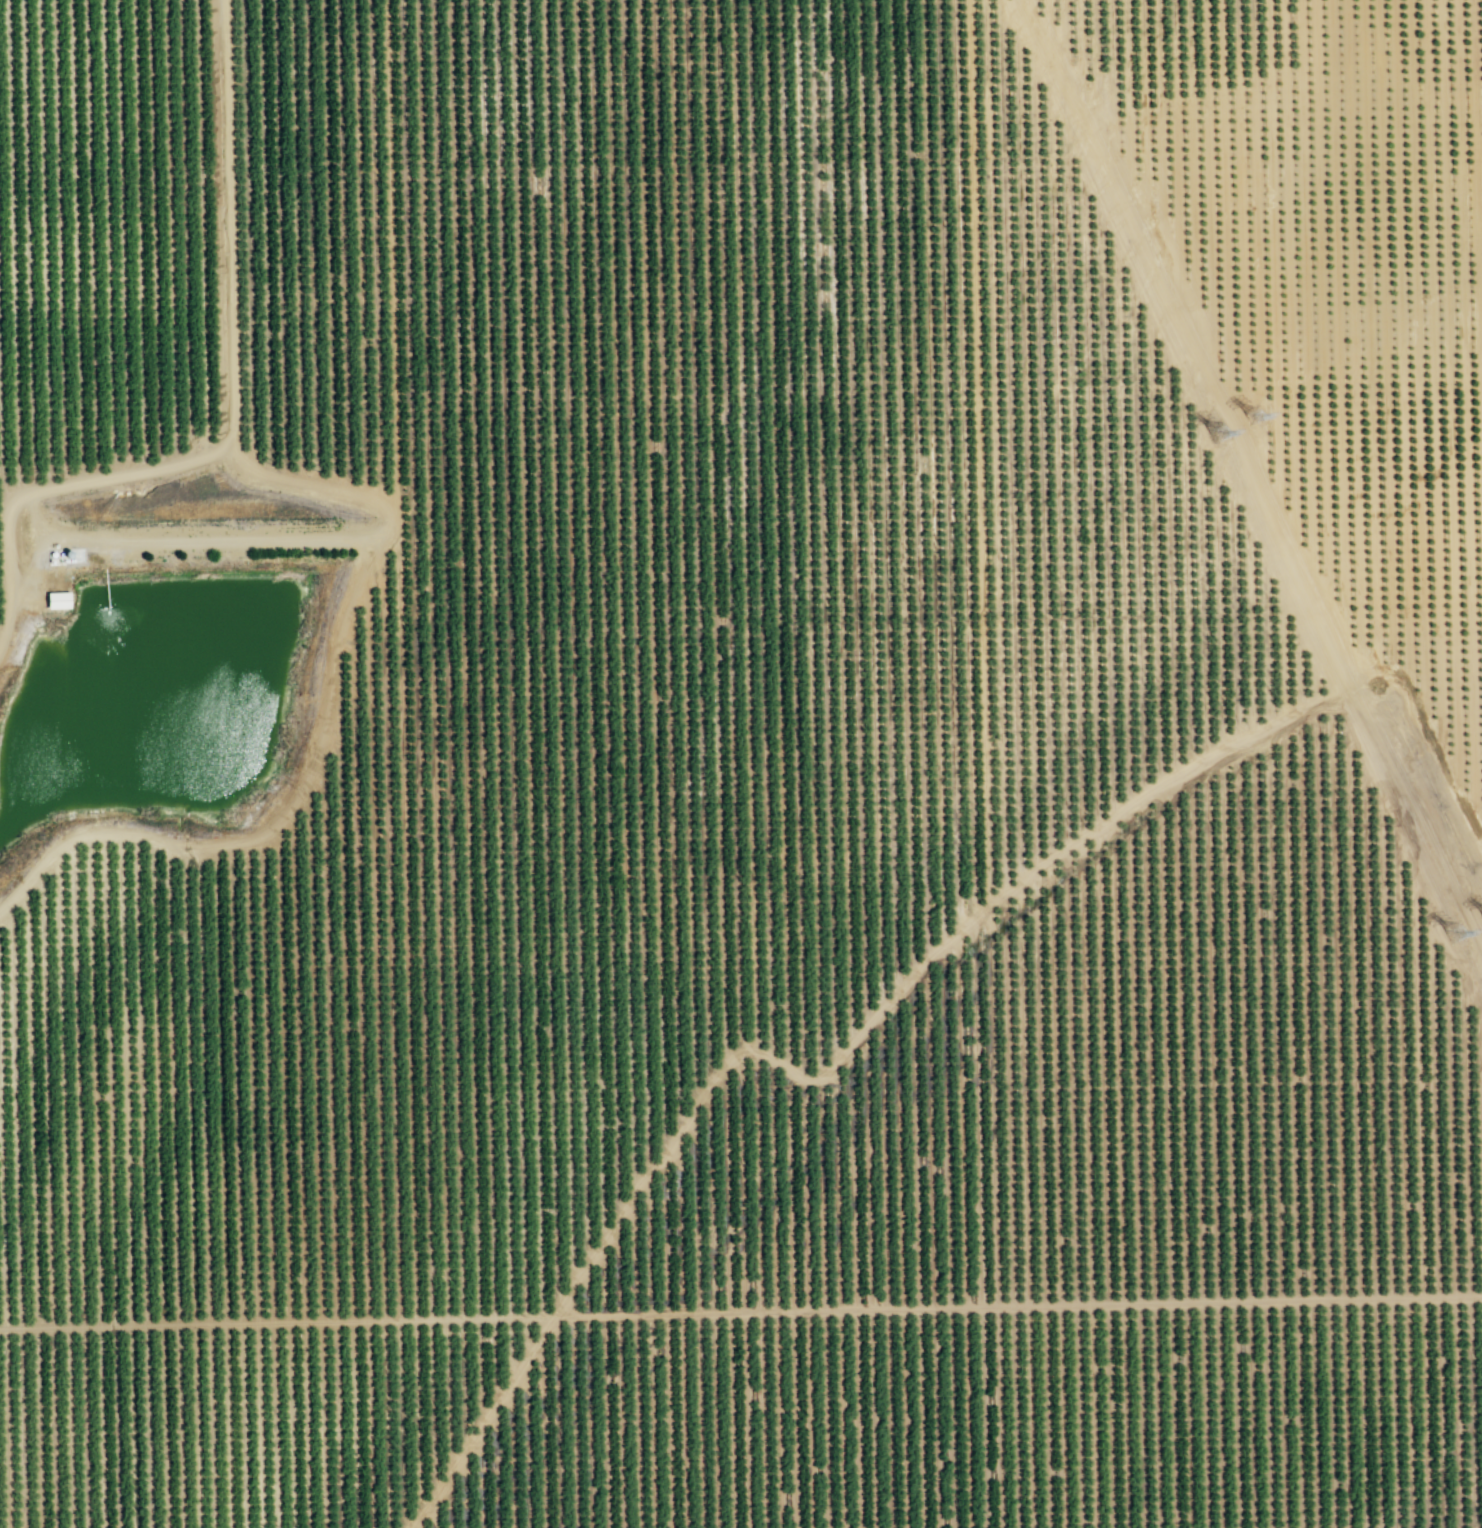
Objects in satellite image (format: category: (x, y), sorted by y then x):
power tower: (1252, 417)
power tower: (1216, 436)
building: (53, 601)
crop: (175, 651)
power tower: (1453, 935)

